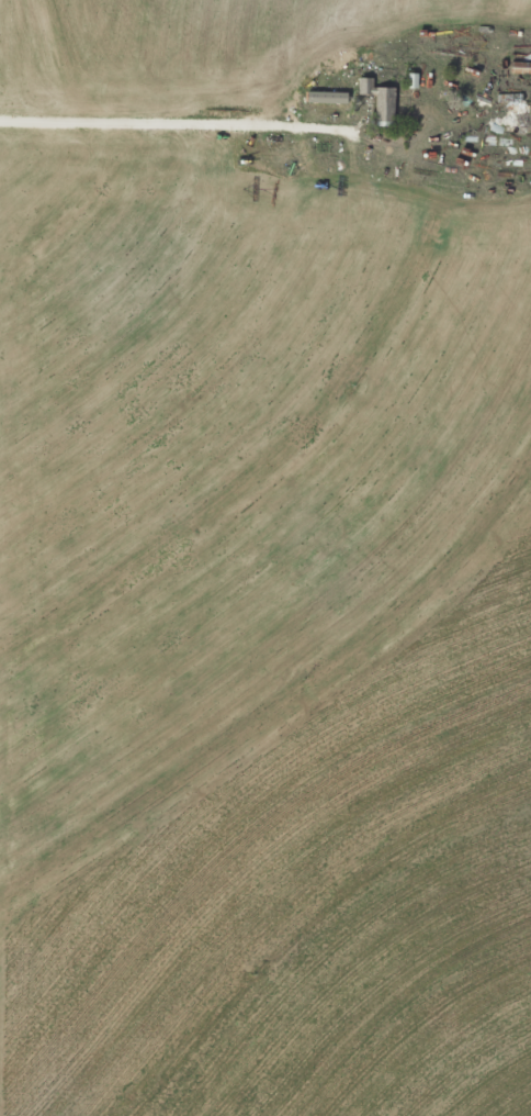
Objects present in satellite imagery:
road: (189, 131)

